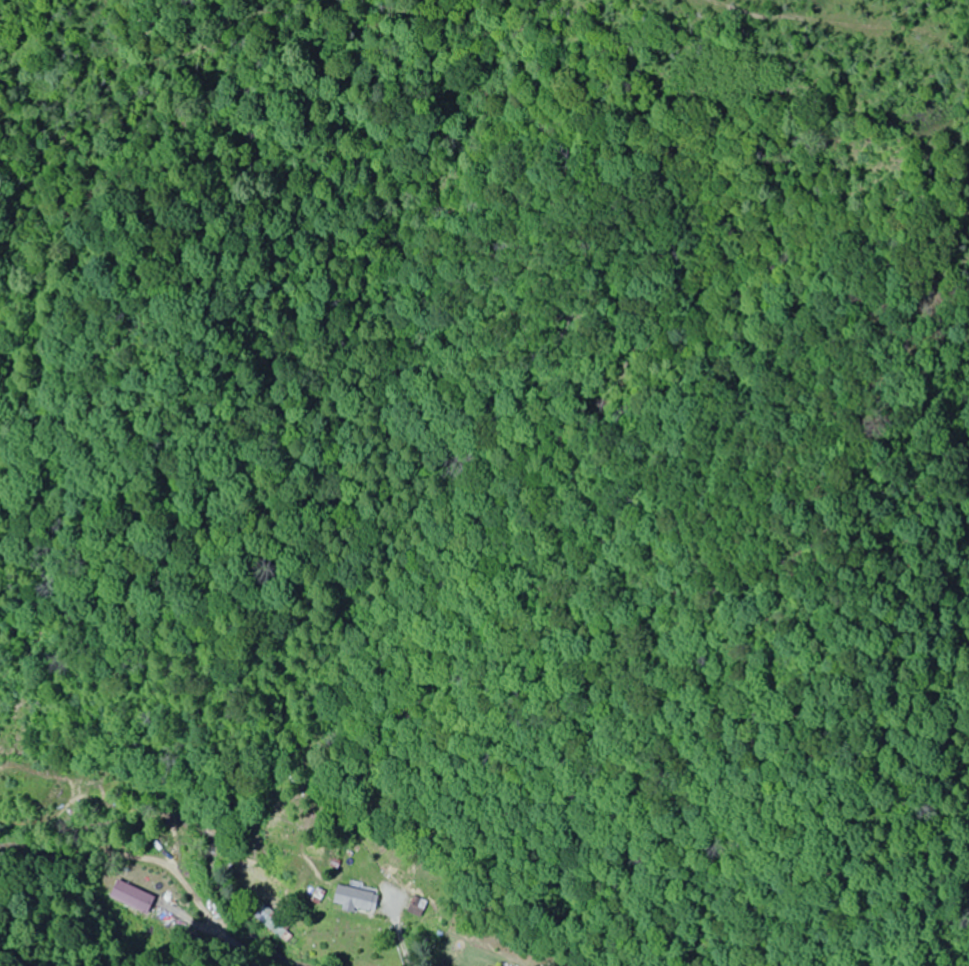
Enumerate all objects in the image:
building: (130, 897)
building: (353, 898)
building: (415, 906)
road: (157, 910)

